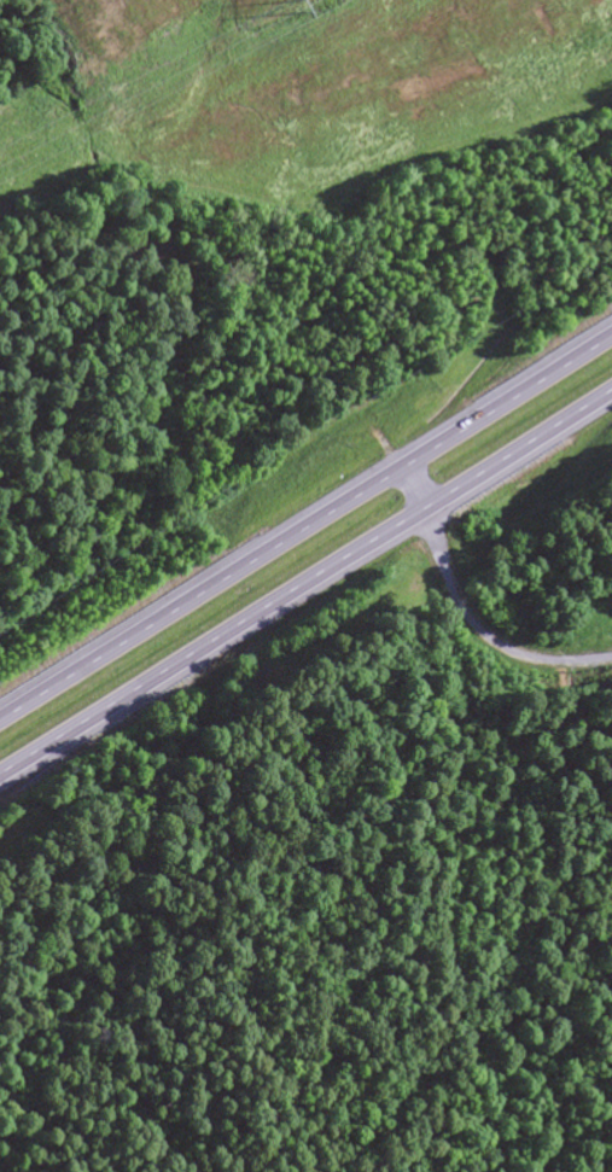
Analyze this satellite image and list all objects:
power tower: (296, 6)
road: (305, 526)
road: (307, 587)
road: (468, 613)

